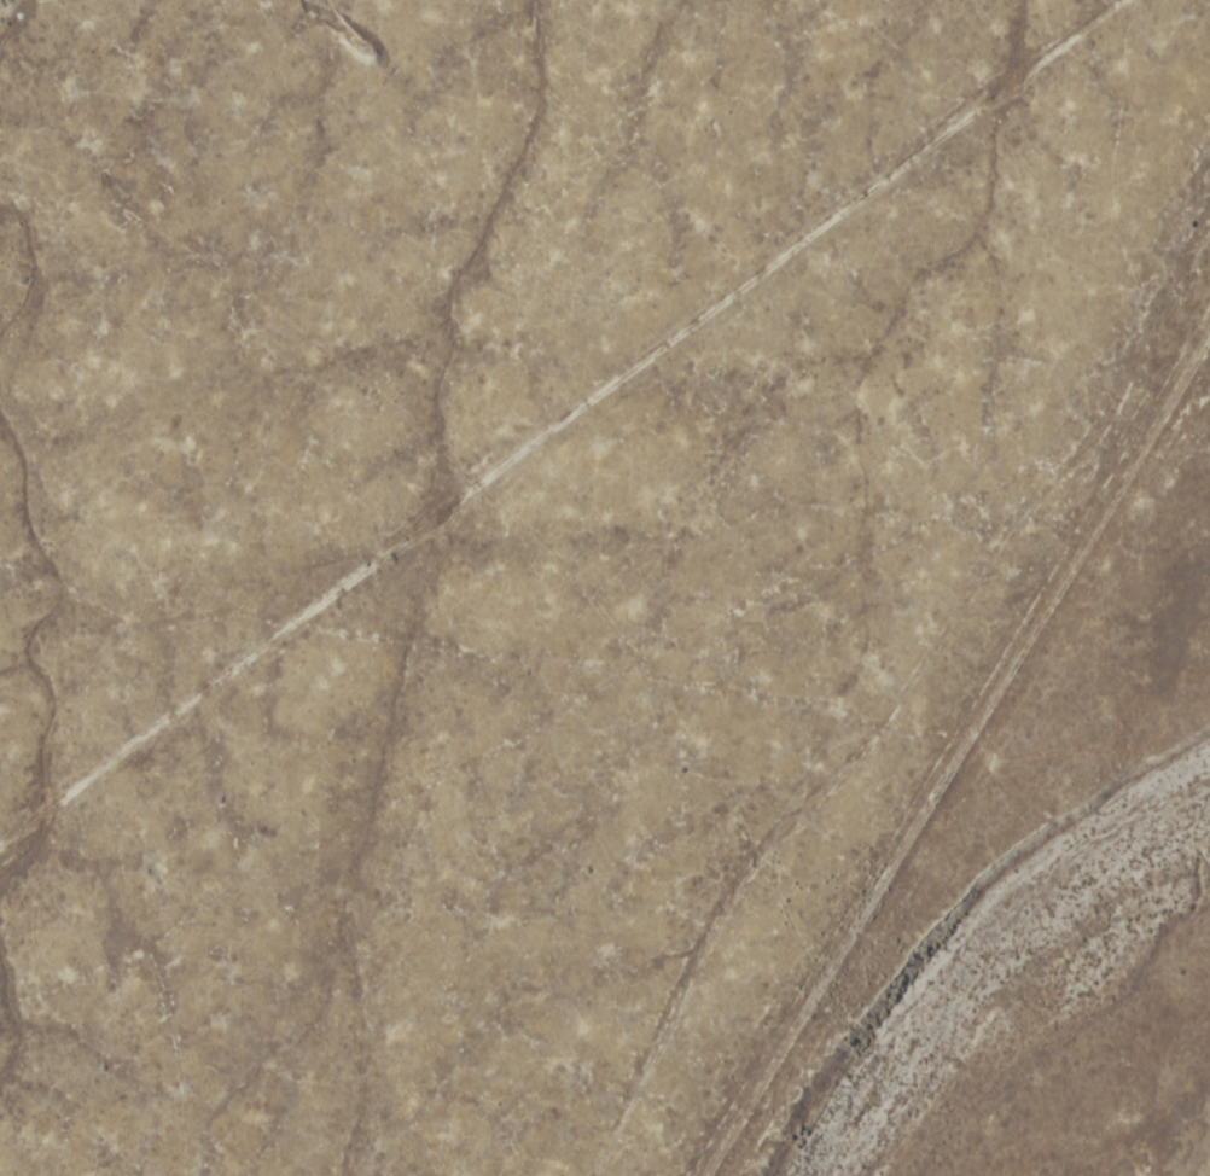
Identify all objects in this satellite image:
road: (568, 435)

